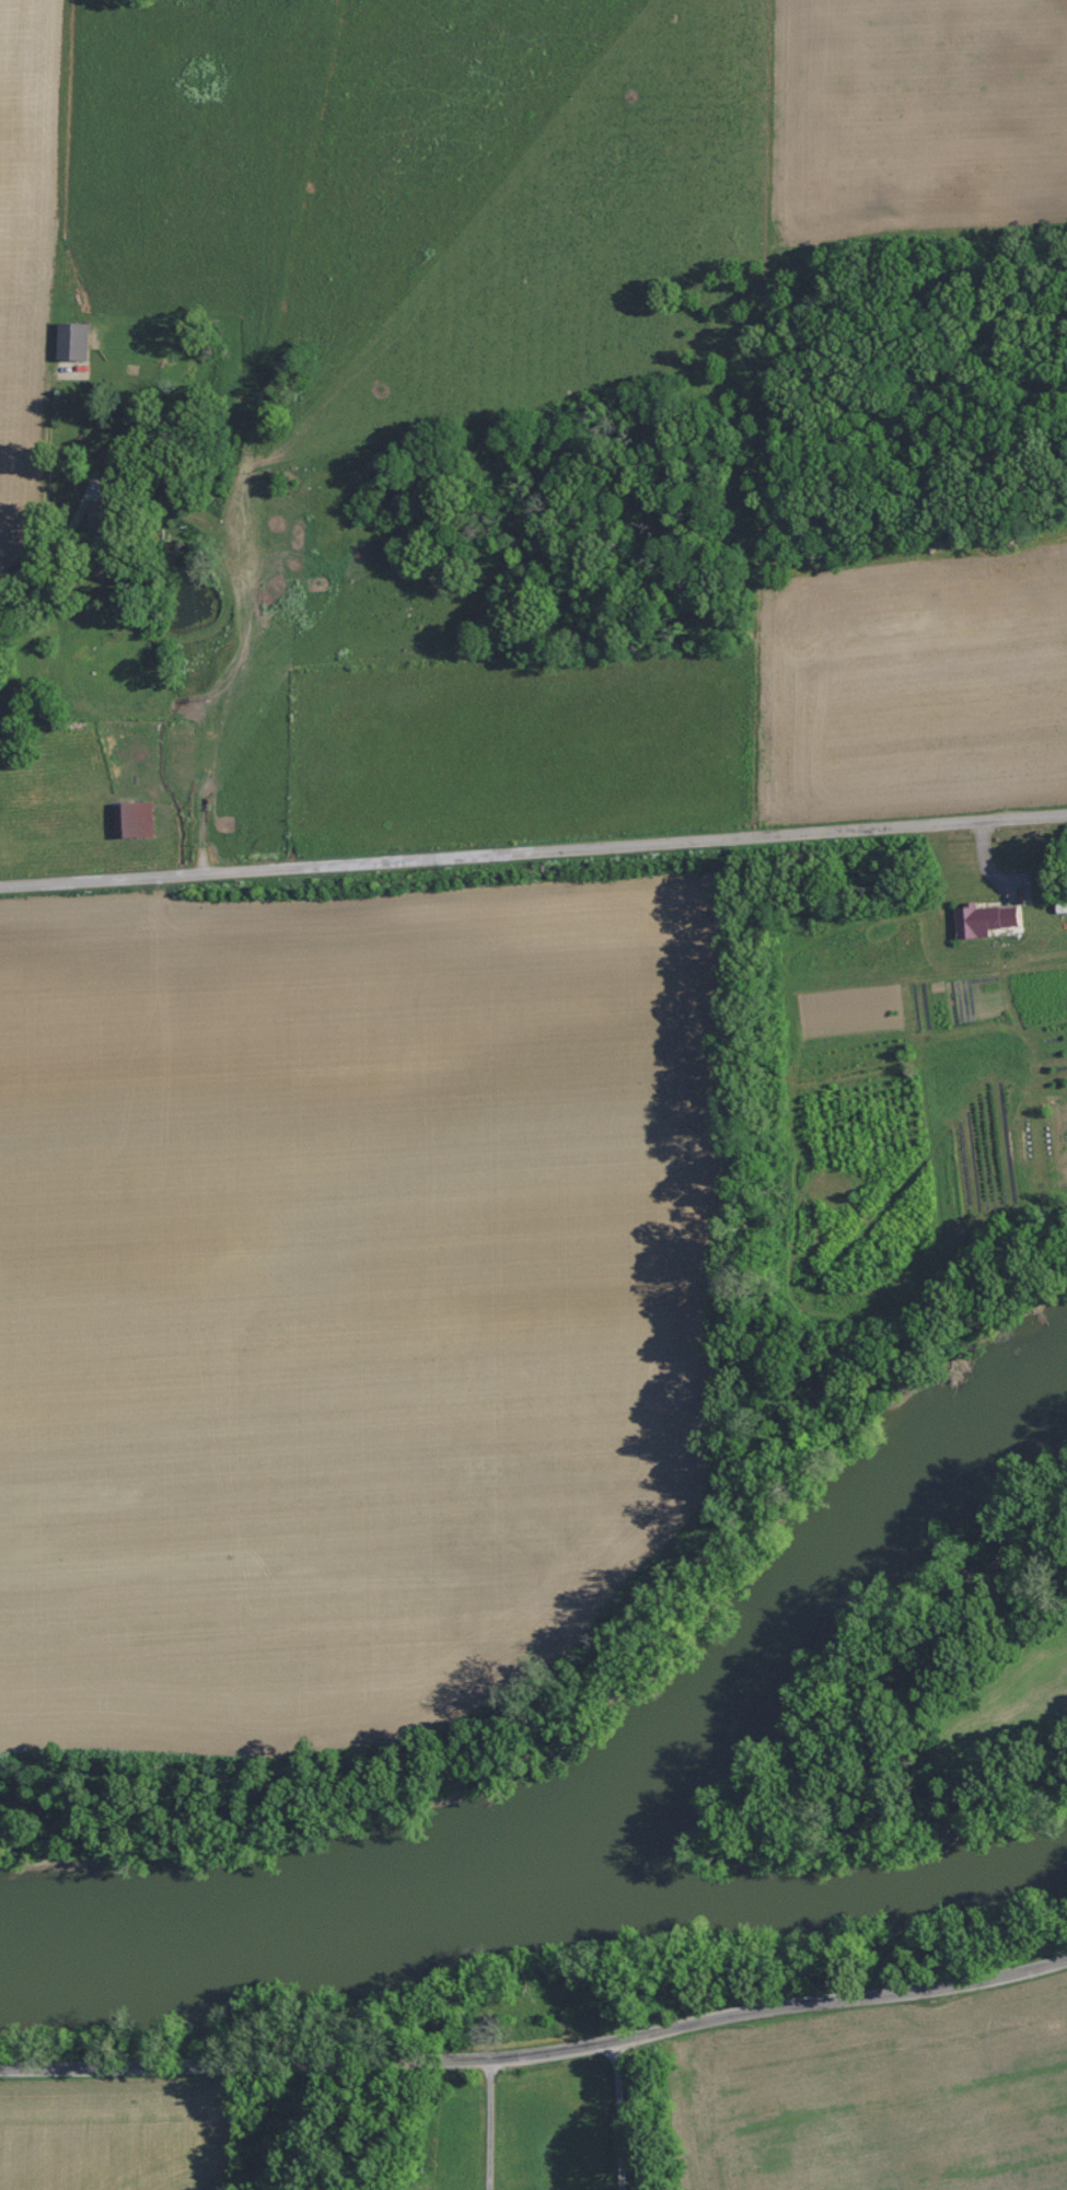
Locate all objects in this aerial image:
building: (73, 341)
building: (100, 520)
road: (36, 554)
building: (134, 819)
road: (533, 865)
building: (984, 918)
river: (772, 1615)
river: (536, 1901)
road: (538, 2049)
road: (614, 2112)
road: (479, 2121)

